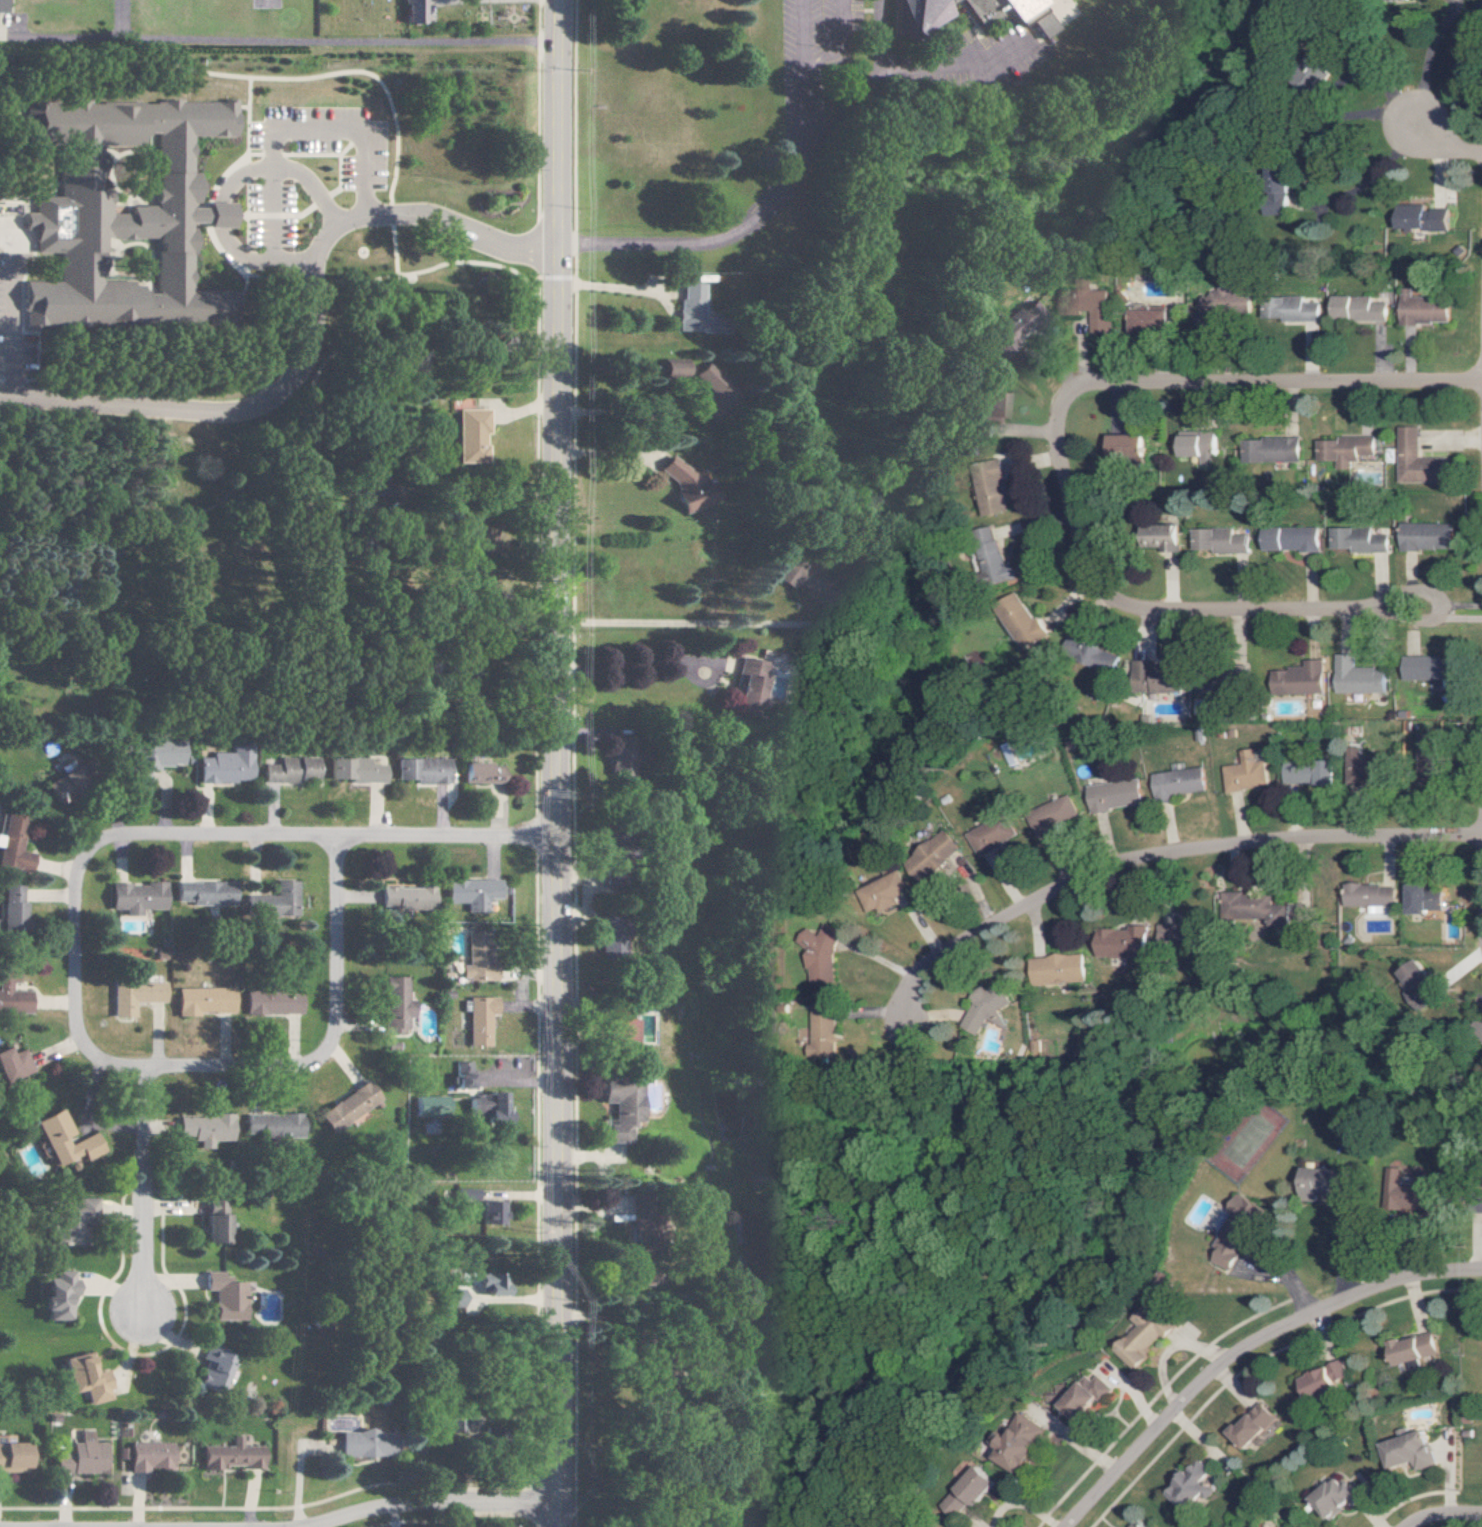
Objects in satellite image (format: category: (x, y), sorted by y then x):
building: (4, 6)
building: (988, 8)
building: (414, 11)
building: (1027, 14)
building: (919, 15)
road: (803, 29)
road: (196, 38)
road: (859, 46)
road: (1425, 60)
road: (803, 111)
road: (279, 129)
road: (1443, 145)
road: (319, 180)
building: (1422, 217)
road: (695, 241)
building: (1093, 304)
building: (1227, 305)
building: (1290, 308)
building: (1359, 308)
building: (693, 310)
building: (1426, 310)
building: (1154, 321)
building: (1010, 326)
road: (10, 328)
road: (313, 341)
building: (674, 367)
building: (709, 379)
road: (1273, 383)
road: (622, 411)
building: (988, 413)
building: (1130, 445)
building: (1203, 445)
building: (1348, 449)
building: (1274, 450)
road: (608, 453)
building: (1419, 459)
building: (993, 483)
building: (684, 485)
building: (1165, 536)
building: (1428, 536)
building: (483, 538)
building: (1292, 539)
building: (1360, 539)
building: (1221, 540)
building: (998, 565)
building: (782, 572)
road: (1156, 613)
road: (1450, 616)
road: (696, 622)
building: (1024, 623)
building: (1101, 657)
road: (622, 661)
building: (1426, 668)
building: (1358, 673)
building: (751, 677)
building: (1301, 678)
building: (1169, 679)
building: (1431, 752)
road: (553, 763)
building: (1371, 765)
building: (221, 767)
building: (289, 770)
building: (354, 770)
building: (422, 770)
building: (1246, 772)
building: (1322, 772)
building: (483, 773)
building: (1297, 773)
building: (1178, 782)
building: (63, 785)
building: (1115, 794)
building: (1054, 814)
building: (996, 834)
road: (316, 837)
building: (12, 845)
building: (937, 855)
road: (1160, 857)
building: (885, 892)
building: (202, 893)
building: (473, 893)
building: (1371, 896)
building: (135, 897)
building: (1431, 897)
building: (407, 898)
building: (272, 902)
building: (10, 906)
building: (1262, 908)
building: (1176, 933)
building: (1126, 942)
building: (608, 947)
building: (823, 955)
building: (1060, 969)
road: (71, 979)
building: (1422, 981)
building: (11, 994)
building: (132, 995)
building: (201, 1000)
building: (270, 1002)
building: (394, 1004)
building: (987, 1007)
building: (479, 1019)
building: (620, 1030)
building: (825, 1030)
road: (327, 1039)
building: (12, 1064)
building: (462, 1074)
building: (430, 1105)
building: (348, 1106)
building: (486, 1106)
building: (618, 1106)
building: (271, 1124)
building: (204, 1128)
building: (63, 1139)
road: (139, 1190)
building: (491, 1212)
building: (73, 1217)
building: (215, 1219)
building: (1238, 1231)
building: (492, 1284)
building: (57, 1295)
building: (224, 1296)
building: (450, 1297)
building: (1147, 1338)
building: (1416, 1347)
road: (1173, 1348)
road: (1245, 1349)
building: (84, 1377)
building: (1327, 1380)
building: (1090, 1396)
building: (1256, 1425)
building: (358, 1443)
building: (1023, 1443)
building: (1412, 1450)
building: (11, 1455)
building: (142, 1455)
building: (229, 1455)
building: (78, 1456)
building: (1194, 1487)
building: (974, 1489)
building: (1338, 1497)
road: (430, 1505)
road: (1023, 1505)
road: (1445, 1516)
road: (971, 1520)
building: (1139, 1525)

